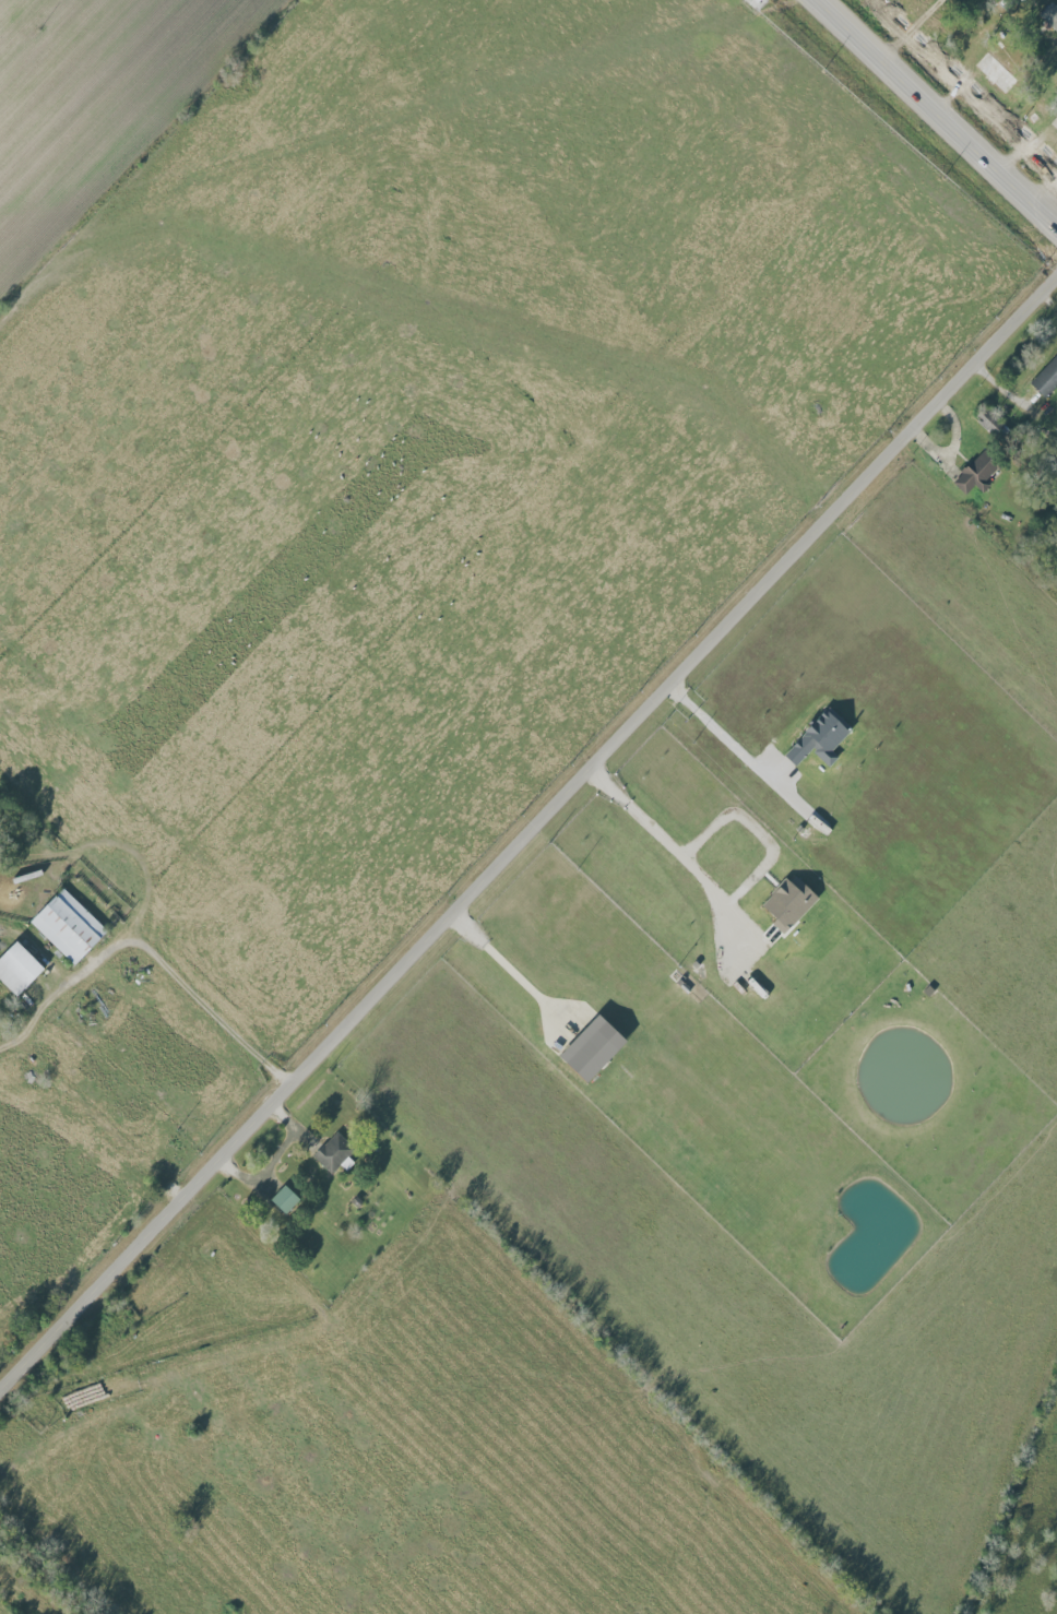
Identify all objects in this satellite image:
building: (1049, 14)
road: (910, 28)
building: (995, 72)
road: (938, 109)
road: (144, 147)
building: (1046, 379)
building: (993, 424)
building: (976, 473)
road: (722, 733)
building: (818, 740)
road: (752, 830)
road: (528, 835)
road: (669, 846)
building: (788, 903)
building: (68, 926)
road: (152, 946)
road: (508, 965)
building: (17, 969)
building: (592, 1049)
building: (334, 1153)
building: (284, 1200)

